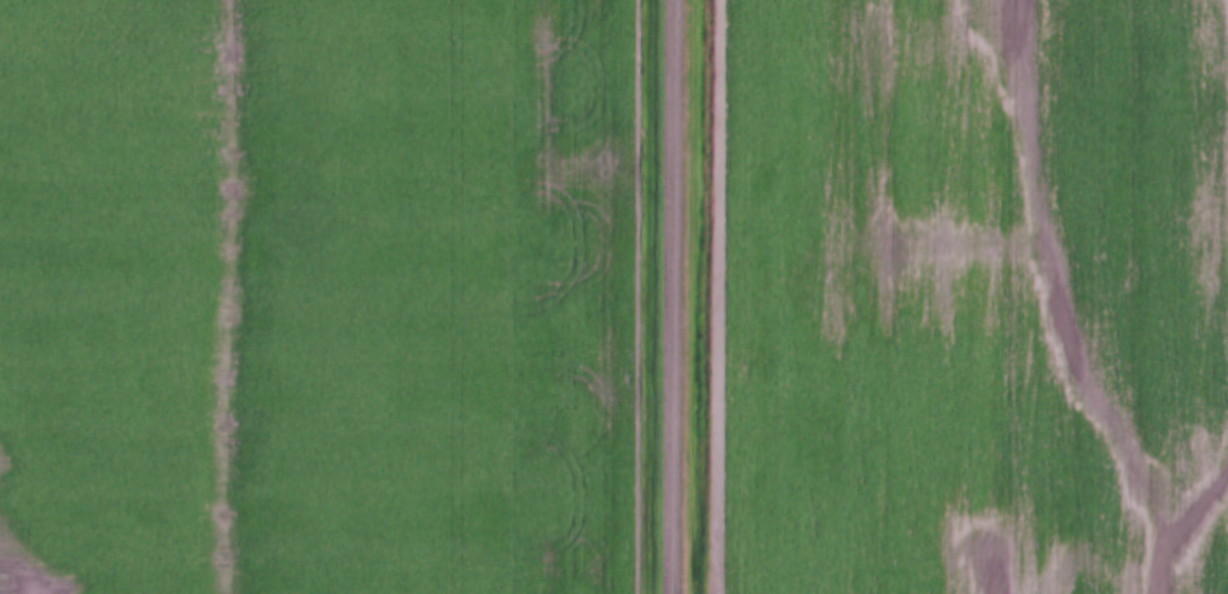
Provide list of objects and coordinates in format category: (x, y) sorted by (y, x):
road: (676, 297)

